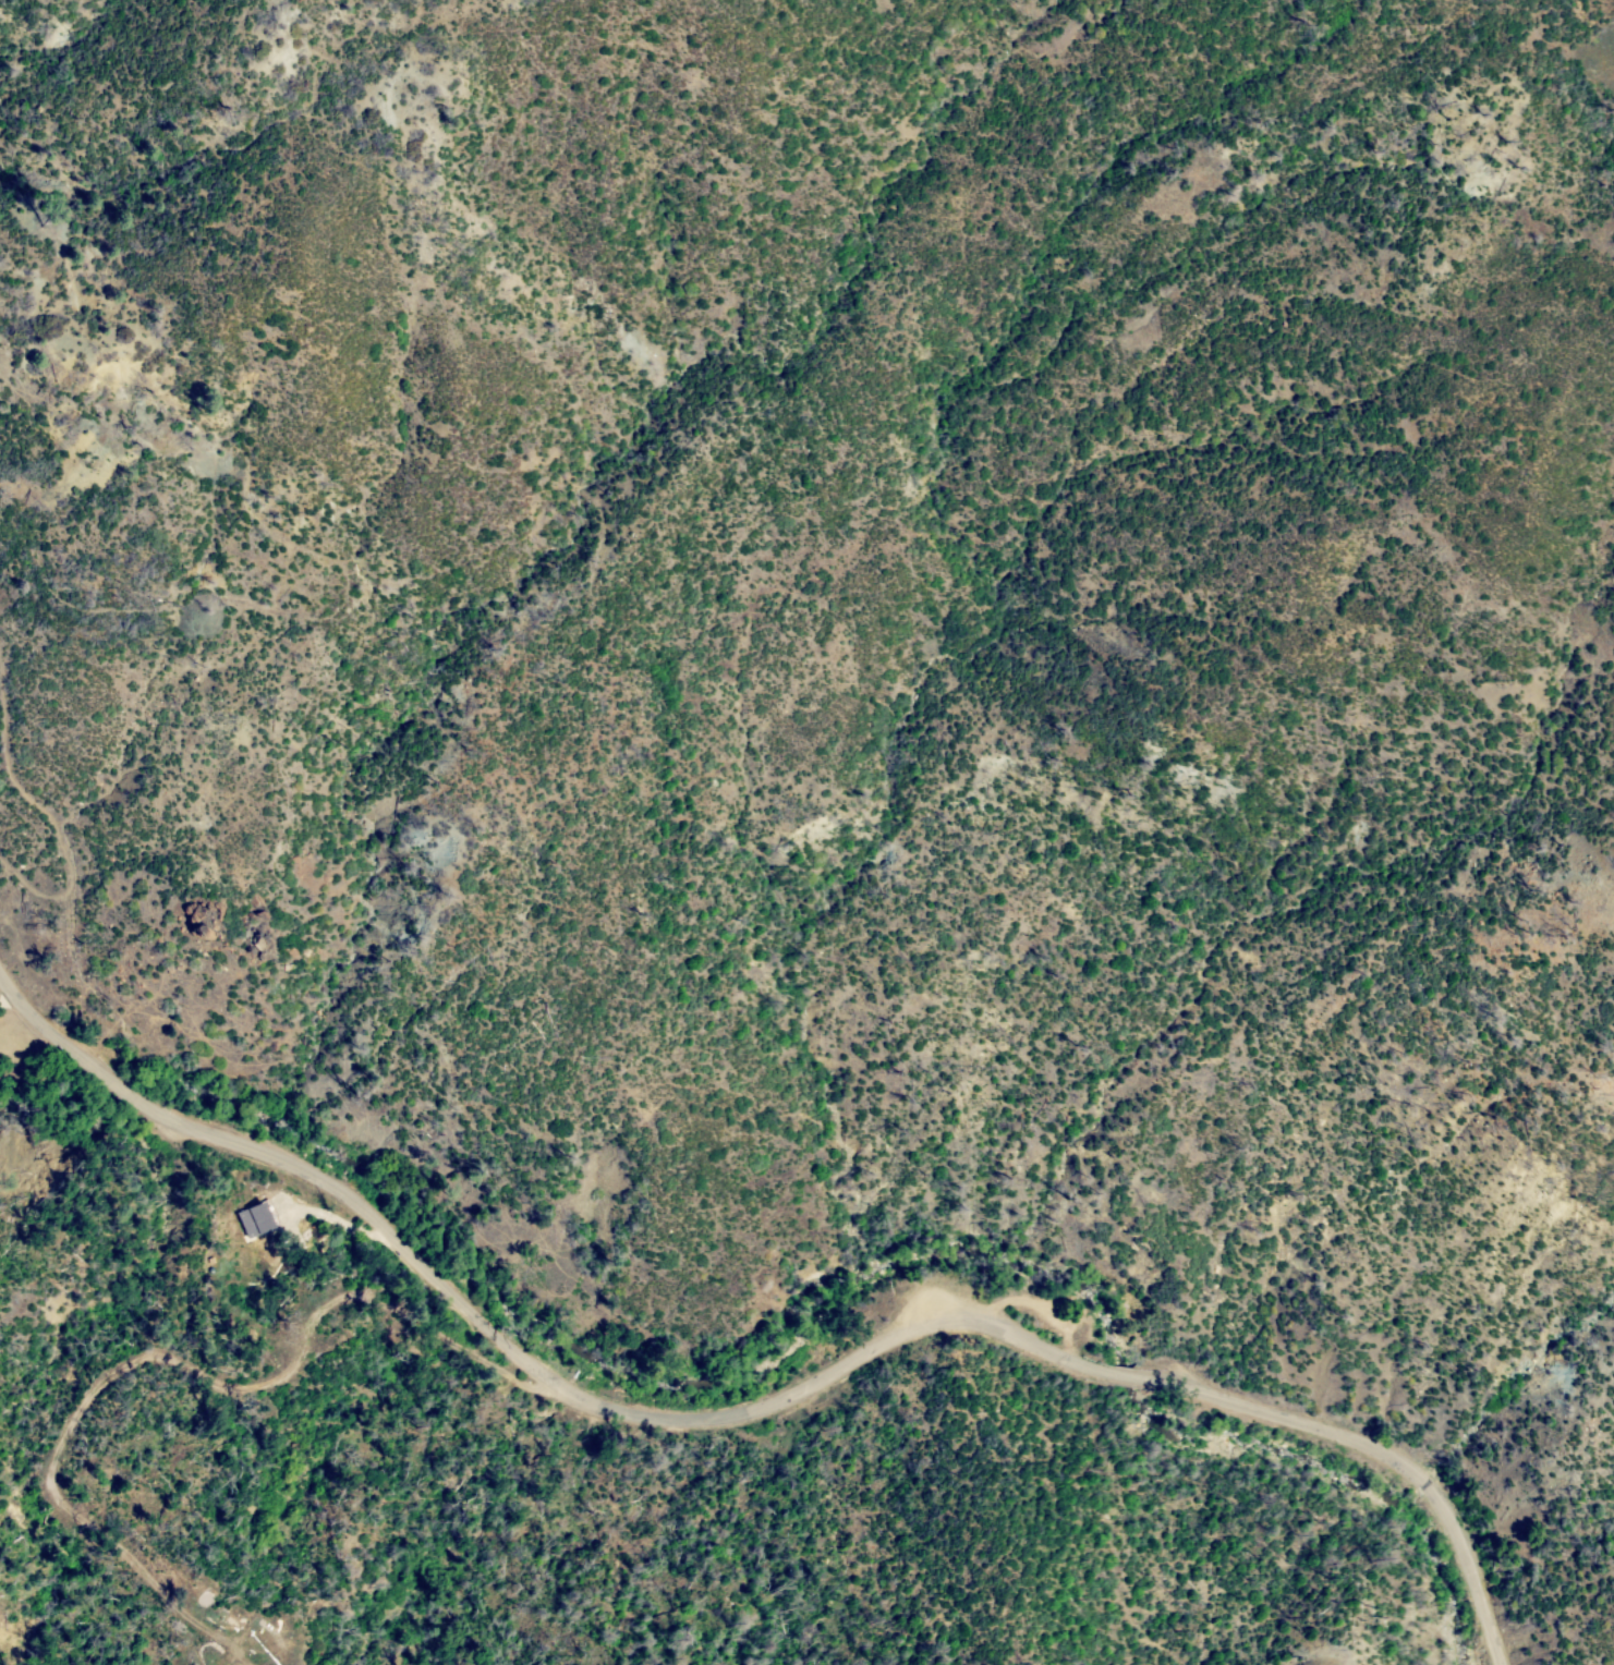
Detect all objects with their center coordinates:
road: (514, 1350)
road: (100, 1374)
road: (1143, 1382)
road: (1391, 1466)

